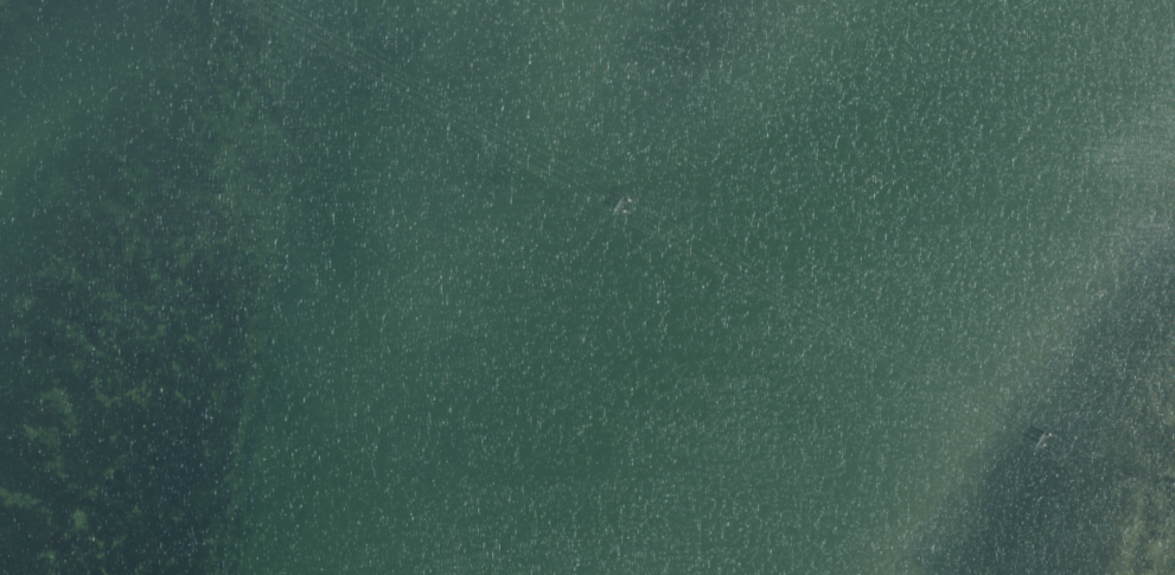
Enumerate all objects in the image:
power tower: (624, 209)
power tower: (1046, 443)

